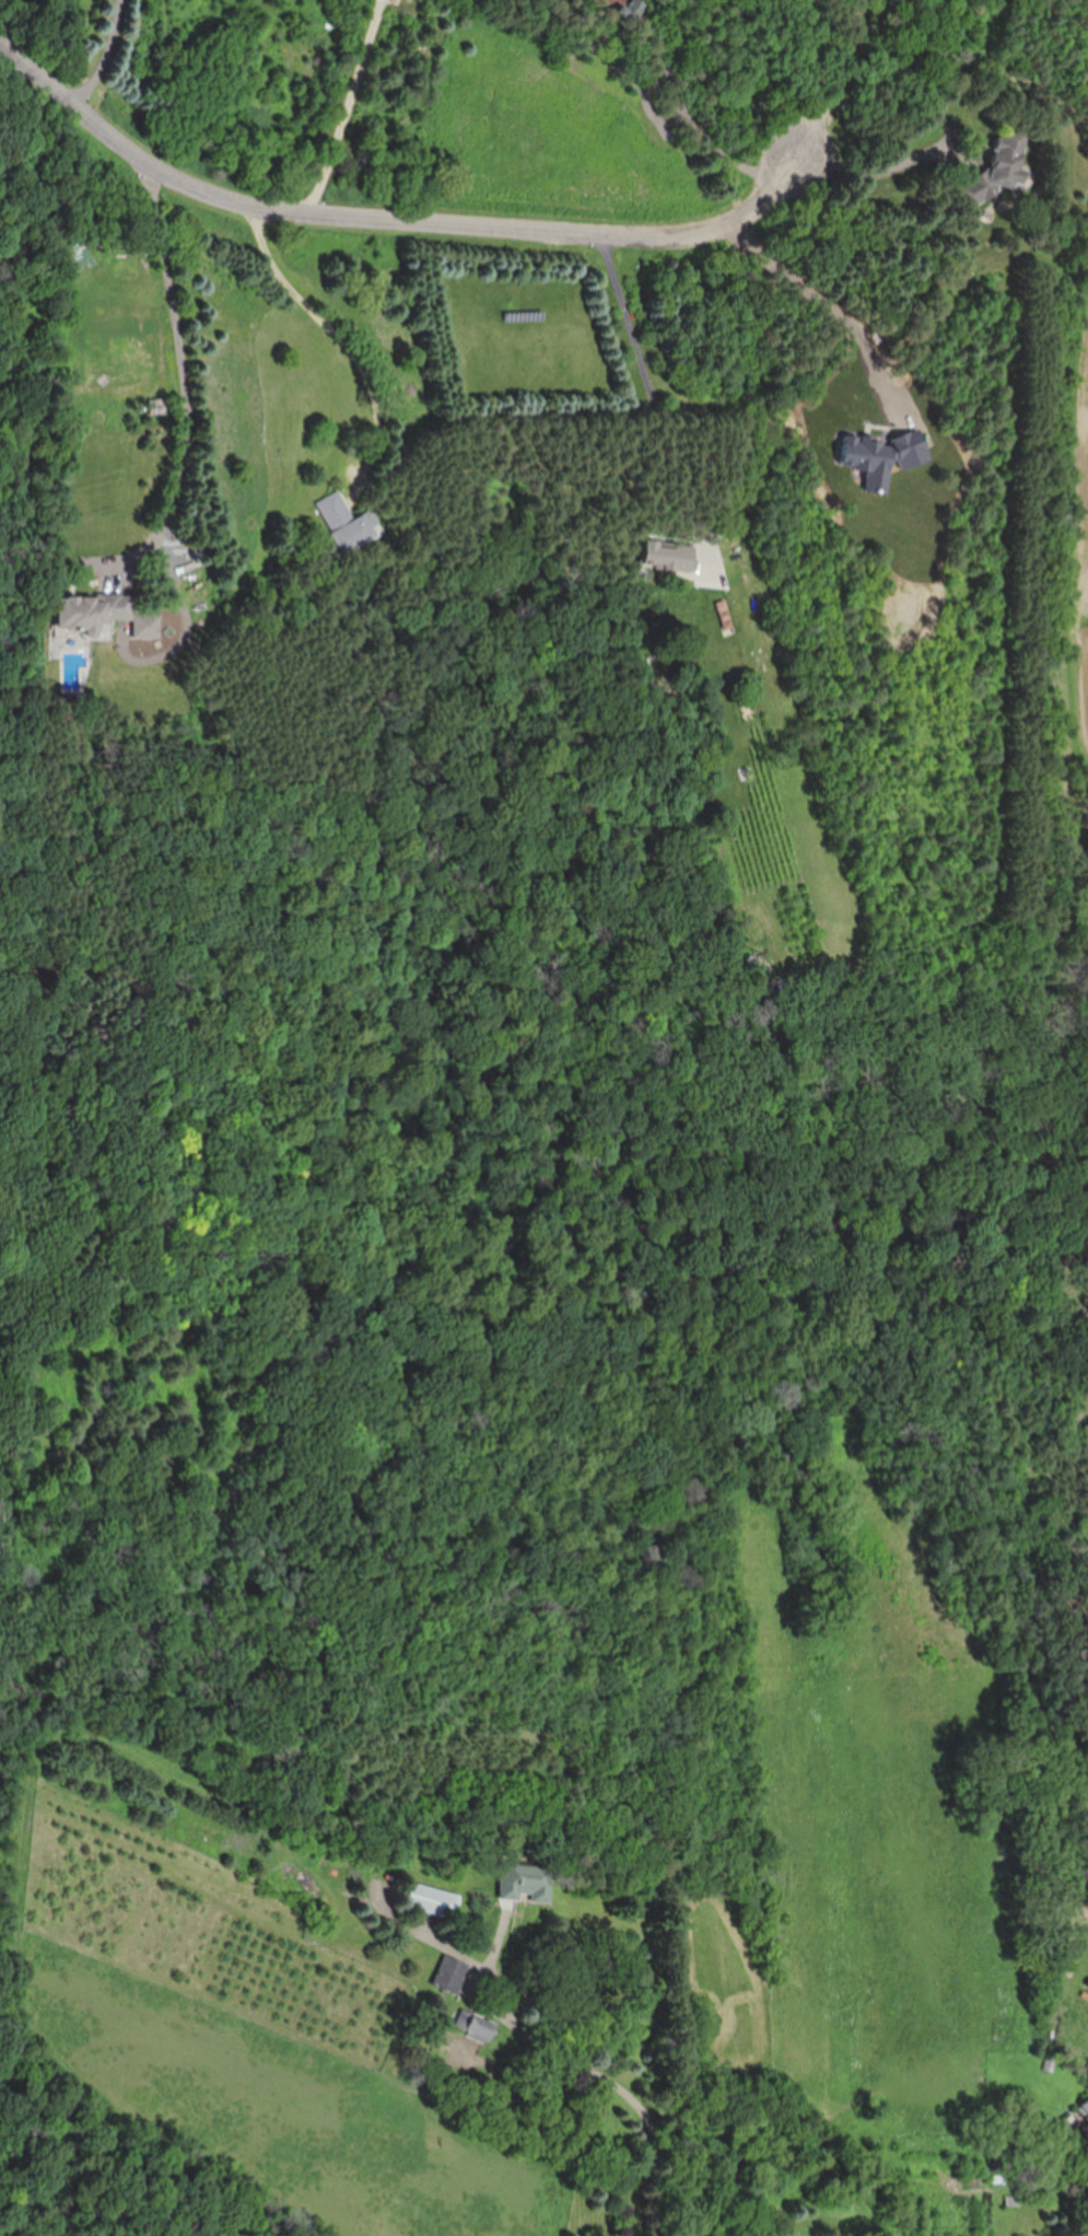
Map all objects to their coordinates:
building: (633, 4)
road: (107, 53)
road: (841, 81)
road: (349, 109)
road: (688, 130)
building: (1005, 162)
road: (881, 165)
road: (385, 219)
road: (340, 338)
road: (191, 372)
road: (648, 381)
building: (344, 523)
building: (666, 556)
building: (92, 612)
building: (527, 1883)
building: (435, 1901)
building: (451, 1973)
building: (473, 2024)
road: (617, 2078)
building: (1084, 2109)

